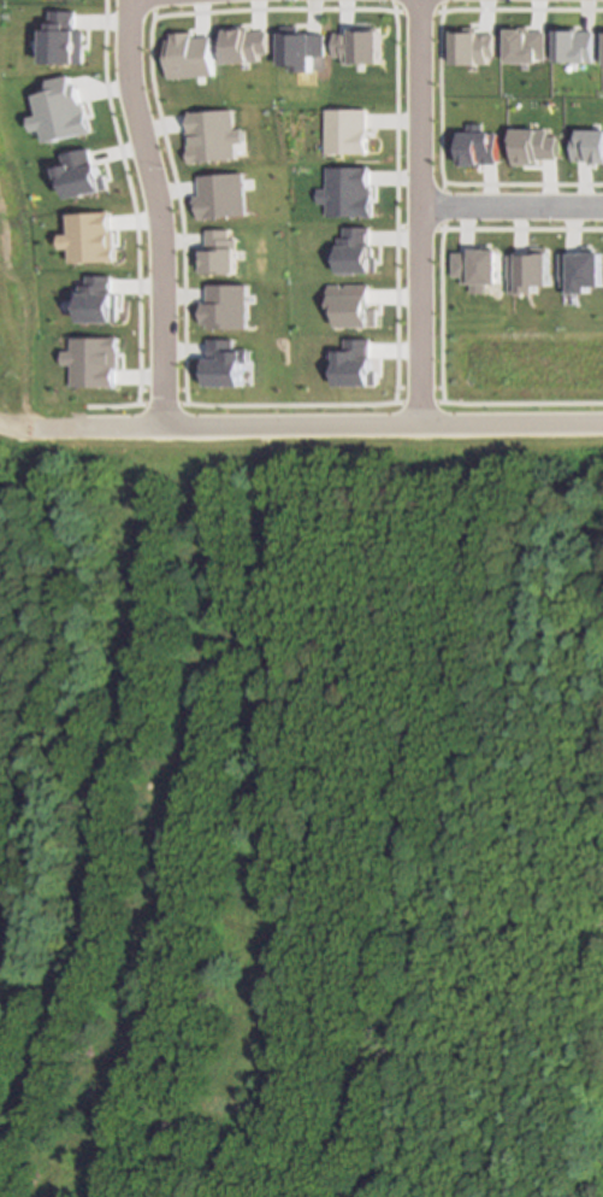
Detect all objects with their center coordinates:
road: (152, 4)
road: (413, 4)
road: (469, 5)
road: (141, 7)
road: (420, 8)
road: (448, 10)
road: (424, 101)
road: (466, 102)
road: (443, 190)
road: (462, 198)
road: (513, 207)
road: (141, 215)
road: (463, 240)
park: (10, 258)
road: (451, 275)
road: (420, 313)
road: (461, 351)
park: (531, 376)
road: (170, 387)
road: (134, 403)
road: (431, 403)
road: (156, 404)
road: (409, 404)
road: (444, 412)
road: (397, 413)
road: (123, 416)
road: (170, 417)
road: (309, 426)
road: (8, 427)

